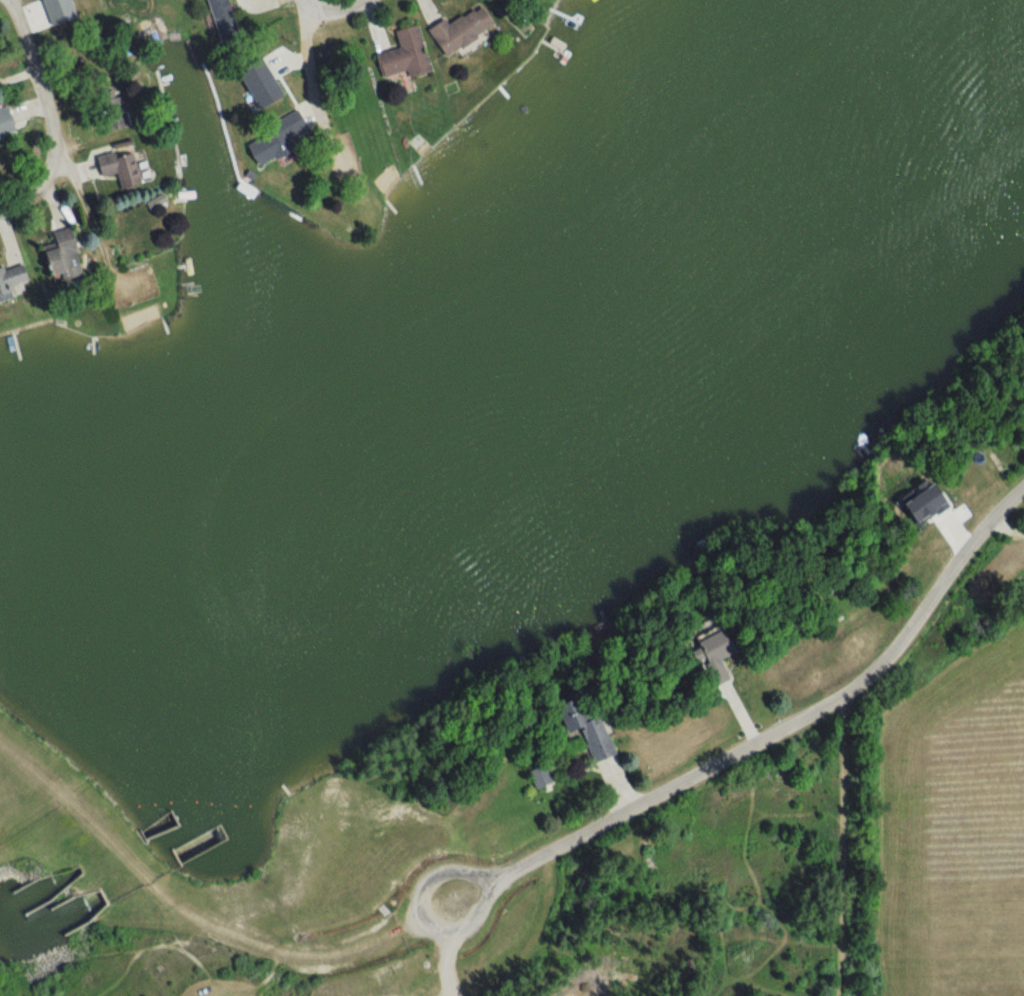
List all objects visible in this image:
road: (334, 10)
building: (219, 17)
building: (456, 30)
building: (400, 55)
road: (313, 80)
building: (114, 112)
road: (47, 115)
building: (3, 124)
building: (269, 140)
building: (114, 166)
building: (55, 256)
building: (11, 278)
building: (704, 657)
building: (578, 728)
road: (765, 738)
building: (534, 777)
road: (841, 848)
dam: (109, 869)
river: (40, 893)
road: (196, 920)
river: (54, 923)
road: (447, 949)

